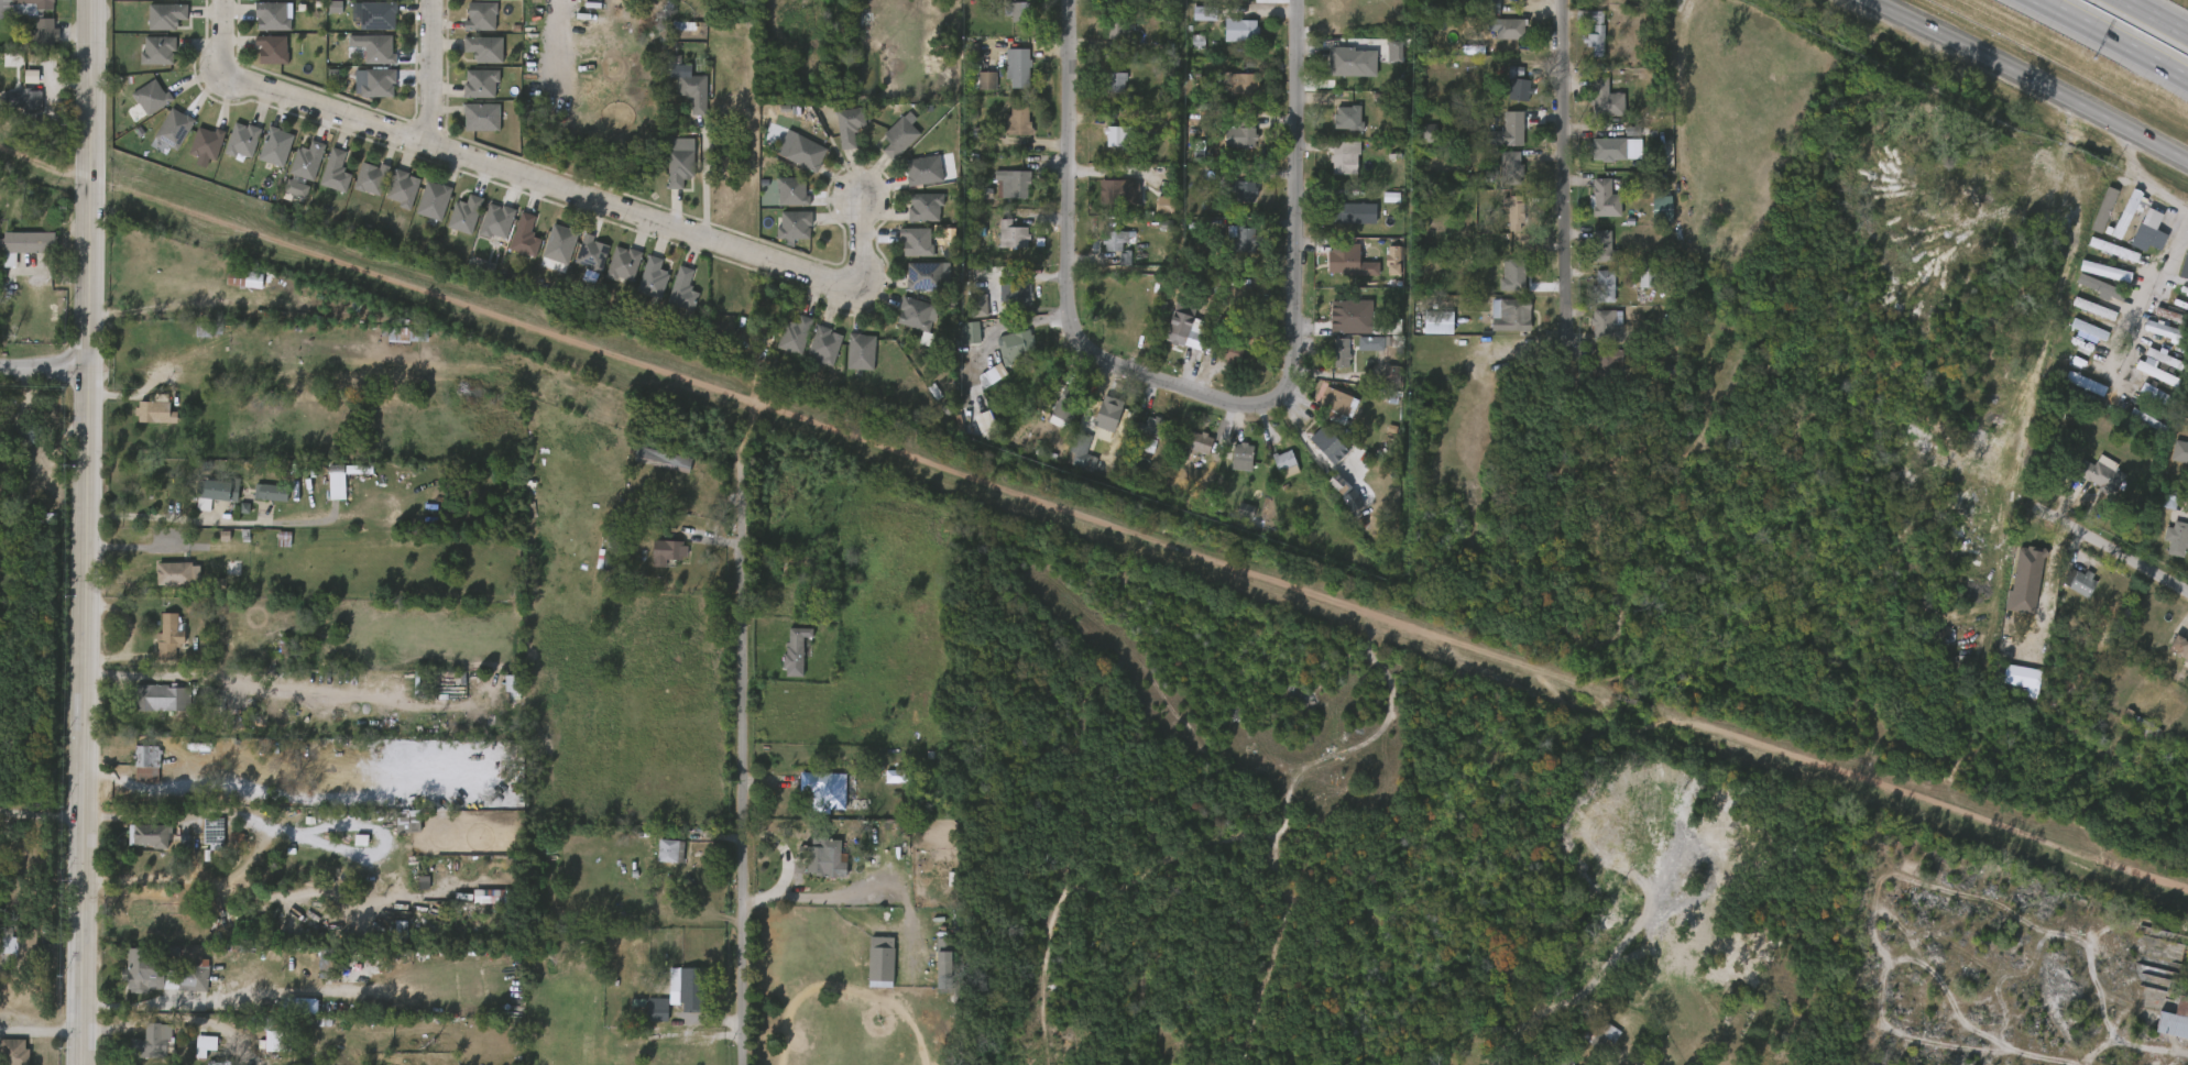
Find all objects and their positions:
building: (1117, 0)
building: (1229, 1)
building: (1491, 1)
building: (473, 2)
building: (616, 2)
building: (160, 3)
building: (1596, 3)
building: (29, 6)
building: (1018, 11)
building: (271, 15)
building: (375, 15)
building: (480, 15)
building: (166, 17)
building: (324, 17)
road: (2154, 18)
building: (1007, 22)
building: (1192, 23)
building: (154, 26)
building: (262, 26)
building: (367, 26)
building: (470, 26)
building: (1116, 26)
building: (1237, 29)
building: (1509, 29)
building: (46, 33)
road: (219, 34)
building: (1103, 39)
building: (1497, 39)
road: (2111, 39)
building: (1594, 40)
building: (1228, 41)
building: (34, 42)
building: (1583, 43)
building: (486, 47)
building: (274, 48)
building: (376, 48)
building: (156, 51)
building: (363, 58)
building: (261, 59)
building: (473, 59)
building: (146, 61)
building: (1382, 62)
building: (1345, 63)
building: (1020, 66)
road: (431, 73)
building: (984, 77)
road: (2027, 77)
building: (1006, 78)
building: (1114, 81)
building: (376, 83)
building: (479, 83)
building: (1516, 84)
building: (20, 86)
building: (1243, 86)
building: (975, 90)
building: (696, 91)
building: (363, 92)
building: (1103, 92)
building: (469, 94)
building: (1505, 95)
building: (153, 97)
building: (1604, 98)
building: (30, 101)
building: (682, 103)
building: (141, 108)
building: (1593, 109)
building: (14, 111)
building: (480, 117)
building: (1348, 118)
building: (1017, 122)
building: (849, 125)
building: (172, 128)
building: (470, 128)
building: (1335, 128)
building: (1506, 130)
building: (1006, 131)
building: (1240, 134)
building: (1116, 135)
building: (838, 136)
building: (899, 138)
building: (244, 139)
building: (205, 142)
building: (1416, 142)
building: (277, 145)
building: (1228, 146)
building: (1107, 147)
building: (1608, 149)
building: (231, 151)
building: (196, 153)
building: (805, 153)
building: (1343, 155)
building: (264, 156)
building: (1595, 160)
building: (308, 161)
building: (794, 163)
building: (679, 167)
building: (1508, 167)
building: (1333, 168)
building: (923, 169)
building: (296, 171)
building: (333, 172)
building: (1498, 174)
building: (370, 177)
building: (668, 177)
road: (1572, 179)
building: (911, 180)
building: (324, 182)
road: (705, 182)
road: (97, 184)
building: (1011, 184)
road: (2137, 185)
building: (360, 188)
building: (401, 188)
building: (1113, 189)
building: (791, 190)
road: (1302, 190)
building: (1246, 191)
building: (999, 195)
road: (584, 197)
building: (285, 198)
building: (391, 199)
building: (1605, 199)
building: (434, 200)
building: (780, 201)
building: (1232, 201)
building: (1111, 202)
building: (928, 207)
building: (1591, 209)
building: (1659, 209)
building: (422, 210)
building: (1512, 210)
building: (1352, 213)
building: (463, 215)
building: (1152, 215)
building: (914, 217)
building: (1649, 217)
building: (2091, 220)
building: (495, 221)
building: (1342, 223)
building: (2113, 223)
building: (794, 224)
building: (1502, 228)
building: (485, 231)
building: (2147, 232)
building: (1011, 234)
building: (525, 235)
building: (783, 237)
building: (1240, 238)
building: (1116, 239)
building: (919, 241)
building: (2136, 242)
building: (26, 243)
building: (562, 243)
building: (1000, 244)
building: (513, 246)
building: (1600, 246)
building: (1104, 250)
building: (1233, 250)
building: (905, 251)
building: (20, 253)
building: (548, 253)
building: (591, 253)
building: (1591, 256)
building: (1344, 260)
building: (2100, 260)
building: (579, 263)
building: (622, 264)
building: (1113, 266)
building: (2184, 266)
building: (1331, 270)
building: (1380, 271)
building: (612, 274)
building: (923, 275)
building: (1512, 275)
building: (652, 278)
building: (241, 279)
building: (2092, 282)
building: (1501, 286)
building: (1604, 287)
building: (641, 288)
building: (1633, 288)
building: (241, 289)
building: (686, 289)
building: (1017, 290)
road: (1080, 294)
building: (1593, 296)
building: (2092, 298)
building: (670, 300)
building: (1003, 301)
road: (2155, 306)
building: (1342, 311)
building: (916, 314)
building: (969, 315)
building: (1508, 315)
building: (2080, 319)
building: (1326, 321)
building: (1438, 322)
building: (905, 325)
building: (1498, 325)
building: (1608, 326)
building: (2187, 327)
building: (1183, 332)
building: (1425, 333)
building: (795, 334)
building: (1596, 336)
building: (2076, 339)
building: (2151, 340)
building: (958, 343)
building: (783, 344)
building: (824, 344)
building: (143, 345)
building: (1016, 347)
building: (860, 351)
building: (1230, 351)
building: (1339, 353)
building: (1358, 353)
building: (812, 356)
building: (849, 362)
building: (1219, 362)
building: (1328, 362)
building: (1605, 365)
road: (44, 369)
building: (2085, 383)
building: (2144, 383)
building: (980, 384)
building: (1378, 384)
building: (2072, 393)
building: (1338, 403)
building: (1066, 404)
building: (2145, 406)
building: (151, 409)
building: (1325, 411)
building: (1052, 417)
building: (144, 422)
building: (1095, 424)
building: (1150, 428)
building: (2135, 431)
building: (1141, 437)
building: (1322, 441)
building: (1194, 443)
building: (2186, 448)
building: (1185, 453)
building: (1315, 454)
building: (661, 457)
building: (1239, 457)
building: (1066, 462)
building: (2174, 462)
building: (1229, 466)
building: (650, 468)
building: (2100, 473)
building: (1273, 474)
building: (340, 476)
building: (2090, 484)
building: (214, 491)
building: (325, 492)
building: (265, 495)
building: (259, 502)
building: (193, 514)
building: (1233, 520)
building: (2176, 538)
road: (156, 547)
building: (2164, 548)
building: (666, 550)
road: (2123, 555)
building: (656, 561)
building: (789, 563)
building: (175, 572)
building: (2080, 580)
building: (166, 584)
building: (2068, 592)
building: (171, 637)
building: (2180, 645)
building: (158, 646)
building: (795, 650)
building: (784, 660)
building: (2173, 660)
building: (499, 693)
building: (163, 698)
building: (152, 707)
road: (86, 716)
building: (2145, 727)
building: (144, 761)
road: (745, 764)
building: (132, 770)
building: (882, 786)
building: (828, 790)
building: (812, 798)
road: (42, 814)
building: (396, 831)
building: (147, 835)
building: (203, 843)
building: (891, 844)
building: (138, 845)
building: (818, 849)
building: (667, 850)
building: (656, 860)
building: (481, 905)
building: (28, 952)
building: (15, 957)
building: (259, 965)
building: (931, 966)
building: (868, 971)
building: (162, 974)
building: (314, 975)
building: (131, 980)
building: (688, 987)
building: (675, 998)
building: (656, 1008)
road: (116, 1015)
building: (645, 1019)
building: (2175, 1021)
road: (41, 1029)
building: (270, 1031)
building: (1591, 1035)
building: (151, 1042)
building: (263, 1050)
building: (14, 1052)
building: (194, 1054)
building: (1554, 1059)

